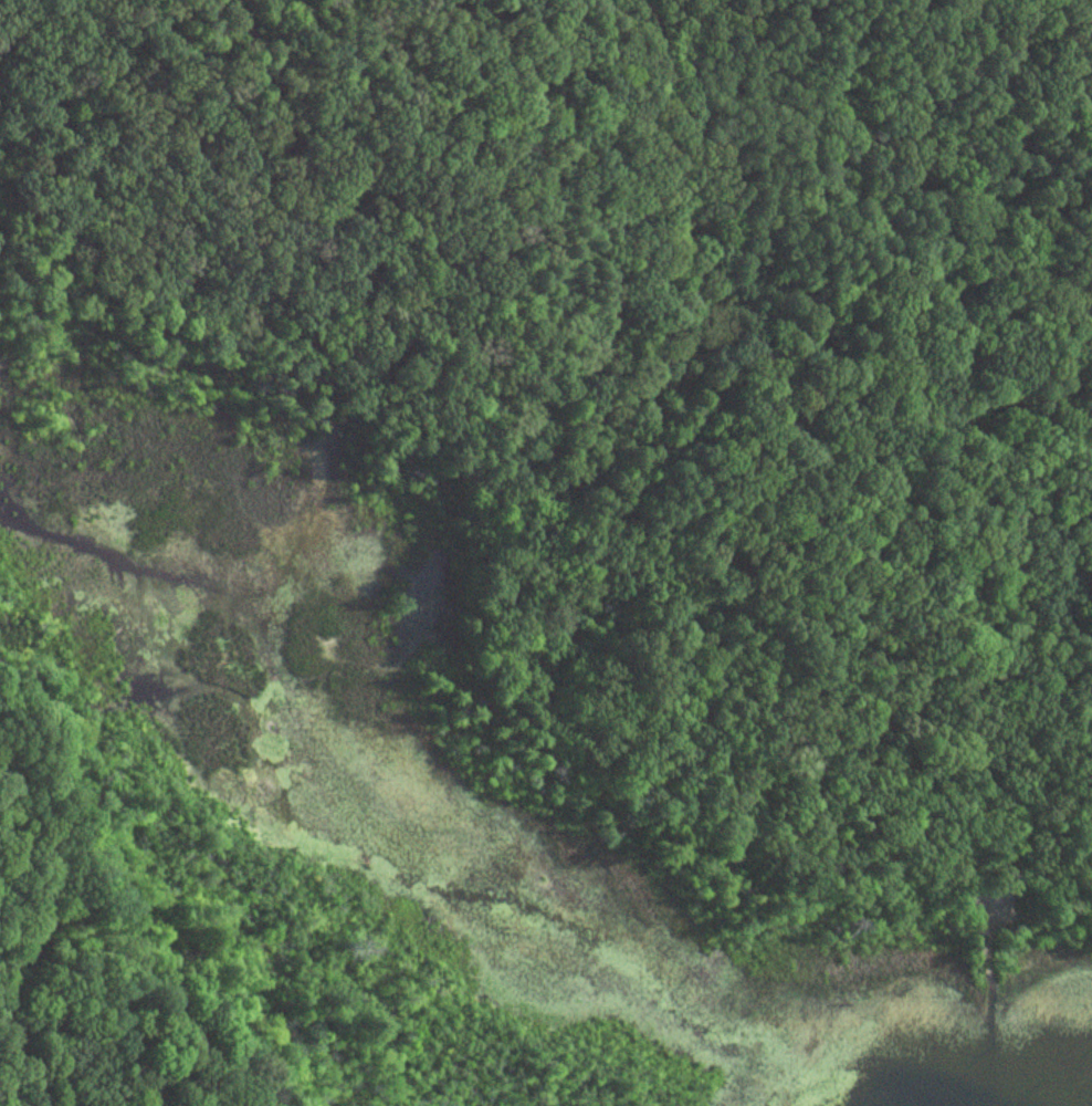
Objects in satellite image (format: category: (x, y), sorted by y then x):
road: (283, 317)
road: (552, 550)
parking lot: (987, 922)

